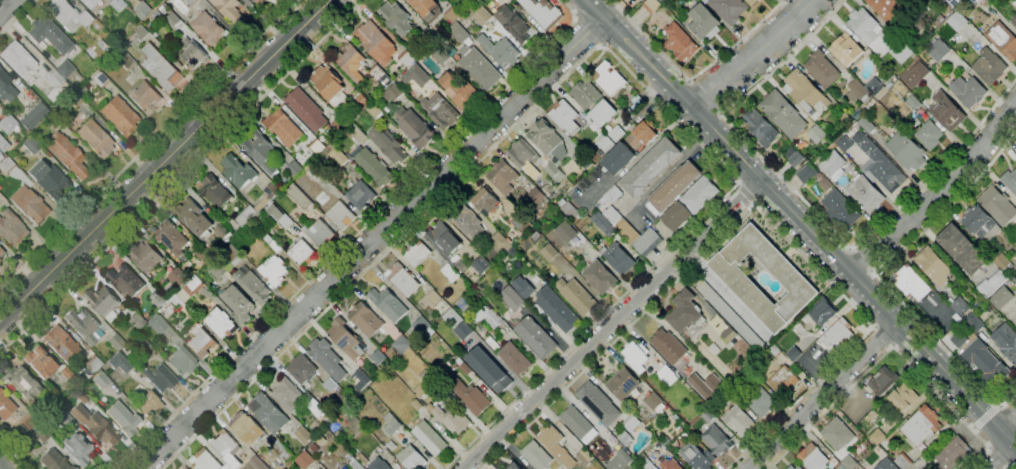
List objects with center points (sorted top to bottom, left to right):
building: (475, 0)
building: (495, 0)
building: (508, 0)
building: (662, 1)
building: (88, 2)
building: (193, 2)
building: (260, 2)
building: (752, 2)
building: (954, 2)
building: (975, 2)
building: (1014, 2)
building: (939, 3)
road: (5, 5)
building: (116, 5)
building: (652, 5)
building: (470, 6)
building: (427, 8)
building: (229, 9)
building: (729, 9)
building: (142, 10)
building: (888, 10)
building: (966, 10)
building: (543, 12)
building: (156, 13)
building: (68, 15)
building: (452, 15)
road: (17, 16)
building: (482, 16)
building: (396, 18)
building: (173, 20)
building: (1014, 20)
building: (958, 21)
building: (704, 22)
building: (513, 23)
building: (917, 25)
building: (476, 29)
building: (210, 30)
building: (458, 32)
building: (142, 33)
building: (428, 34)
road: (588, 34)
building: (49, 35)
building: (879, 36)
building: (120, 39)
building: (1003, 40)
building: (680, 42)
building: (116, 43)
building: (376, 43)
building: (101, 45)
road: (597, 48)
building: (847, 49)
building: (938, 50)
building: (500, 51)
building: (193, 54)
building: (443, 55)
building: (17, 58)
building: (123, 58)
road: (758, 58)
building: (352, 64)
building: (990, 66)
building: (414, 67)
building: (0, 68)
building: (64, 68)
building: (161, 68)
building: (479, 68)
building: (822, 68)
building: (916, 74)
building: (381, 76)
road: (692, 76)
building: (54, 78)
building: (609, 78)
building: (99, 79)
building: (74, 83)
building: (329, 84)
building: (876, 87)
building: (5, 88)
building: (857, 90)
building: (969, 90)
building: (460, 91)
building: (397, 93)
building: (585, 93)
building: (806, 94)
road: (706, 95)
building: (145, 97)
building: (75, 98)
building: (883, 98)
building: (362, 100)
building: (914, 102)
building: (637, 103)
building: (871, 103)
building: (377, 105)
building: (305, 108)
building: (947, 110)
building: (440, 111)
building: (603, 113)
building: (631, 113)
building: (783, 113)
building: (563, 114)
building: (29, 115)
building: (119, 115)
building: (846, 117)
road: (726, 120)
building: (853, 121)
building: (6, 123)
building: (339, 125)
building: (867, 125)
building: (759, 126)
building: (283, 128)
building: (417, 130)
building: (850, 132)
building: (617, 133)
building: (643, 134)
building: (817, 134)
building: (929, 135)
building: (324, 136)
building: (361, 136)
building: (95, 138)
building: (33, 139)
building: (605, 143)
building: (844, 143)
building: (3, 144)
road: (148, 144)
building: (388, 145)
building: (317, 146)
building: (548, 147)
building: (907, 149)
building: (262, 151)
building: (791, 152)
building: (860, 152)
building: (0, 153)
building: (522, 154)
building: (1, 156)
building: (67, 156)
building: (339, 156)
building: (349, 157)
building: (309, 158)
building: (619, 158)
building: (581, 159)
building: (797, 159)
road: (165, 160)
building: (831, 161)
building: (6, 164)
building: (882, 164)
building: (374, 167)
building: (651, 167)
building: (296, 168)
road: (672, 169)
building: (238, 171)
building: (313, 171)
road: (939, 171)
building: (806, 174)
road: (181, 175)
building: (504, 177)
building: (48, 178)
building: (1010, 180)
building: (826, 183)
building: (0, 187)
building: (673, 187)
building: (215, 192)
road: (938, 192)
building: (866, 193)
road: (745, 194)
building: (360, 195)
building: (536, 195)
building: (612, 195)
building: (303, 200)
building: (485, 200)
building: (322, 201)
building: (284, 202)
building: (562, 202)
building: (28, 203)
building: (690, 203)
building: (597, 205)
building: (998, 205)
road: (752, 206)
building: (254, 208)
building: (272, 209)
building: (569, 210)
building: (841, 210)
building: (341, 215)
building: (558, 215)
building: (579, 215)
building: (296, 217)
building: (194, 218)
building: (464, 219)
building: (520, 220)
building: (287, 221)
road: (802, 222)
building: (981, 223)
building: (603, 224)
building: (11, 228)
building: (570, 230)
building: (630, 230)
building: (223, 232)
building: (320, 233)
building: (535, 235)
building: (440, 236)
building: (171, 237)
building: (268, 239)
road: (349, 241)
road: (372, 243)
building: (500, 243)
building: (276, 246)
building: (963, 249)
building: (301, 252)
building: (549, 252)
building: (1, 253)
building: (417, 254)
building: (204, 255)
building: (233, 255)
building: (145, 256)
building: (476, 256)
road: (862, 256)
building: (619, 258)
building: (1004, 262)
building: (934, 266)
building: (274, 270)
building: (219, 271)
building: (450, 273)
road: (868, 273)
building: (158, 275)
building: (178, 277)
building: (600, 277)
building: (402, 278)
building: (736, 278)
building: (1014, 278)
building: (127, 282)
building: (911, 283)
building: (992, 284)
building: (1015, 284)
building: (253, 285)
building: (525, 289)
building: (186, 292)
building: (576, 296)
building: (433, 297)
building: (511, 298)
building: (1002, 298)
building: (158, 299)
building: (463, 302)
building: (104, 303)
building: (238, 303)
building: (388, 304)
building: (961, 306)
building: (558, 311)
building: (822, 311)
building: (685, 312)
building: (730, 315)
building: (488, 317)
building: (136, 318)
building: (366, 319)
building: (975, 322)
building: (220, 323)
building: (156, 324)
road: (612, 324)
building: (85, 325)
building: (421, 325)
building: (994, 325)
building: (691, 328)
building: (430, 332)
building: (509, 332)
building: (468, 335)
building: (837, 335)
road: (880, 336)
building: (535, 337)
building: (728, 337)
building: (958, 337)
building: (435, 338)
building: (345, 339)
building: (115, 341)
building: (201, 341)
building: (1006, 341)
building: (139, 342)
building: (61, 343)
building: (492, 343)
building: (402, 344)
building: (807, 345)
building: (668, 346)
road: (889, 346)
building: (163, 347)
building: (775, 350)
building: (795, 353)
building: (636, 355)
building: (377, 356)
building: (514, 358)
building: (327, 359)
building: (38, 360)
building: (182, 361)
building: (985, 361)
building: (682, 364)
building: (126, 367)
building: (302, 369)
building: (468, 371)
building: (976, 371)
building: (82, 372)
building: (491, 372)
building: (667, 375)
building: (749, 375)
building: (159, 377)
building: (426, 377)
building: (362, 378)
building: (100, 380)
building: (784, 381)
building: (882, 381)
building: (21, 382)
building: (623, 383)
building: (331, 385)
building: (87, 386)
building: (709, 387)
building: (420, 390)
building: (443, 390)
building: (287, 392)
road: (824, 396)
building: (470, 397)
building: (727, 397)
building: (902, 397)
building: (61, 398)
building: (76, 398)
building: (760, 401)
building: (655, 402)
building: (148, 403)
building: (417, 404)
building: (599, 405)
building: (5, 406)
building: (317, 408)
building: (60, 413)
building: (268, 413)
building: (708, 415)
building: (871, 416)
building: (123, 418)
road: (985, 418)
building: (451, 419)
building: (738, 420)
building: (27, 421)
road: (1008, 422)
building: (631, 423)
building: (392, 424)
building: (579, 424)
building: (921, 425)
building: (98, 427)
building: (21, 428)
building: (246, 428)
building: (39, 434)
building: (837, 434)
building: (303, 435)
building: (877, 436)
building: (429, 438)
building: (625, 438)
building: (321, 439)
building: (717, 440)
building: (367, 441)
building: (668, 441)
building: (664, 443)
building: (391, 445)
building: (556, 445)
building: (886, 445)
building: (227, 448)
building: (315, 448)
building: (76, 449)
building: (282, 451)
building: (893, 451)
road: (10, 452)
building: (374, 453)
building: (953, 454)
building: (536, 456)
building: (697, 456)
building: (411, 457)
building: (813, 457)
road: (1003, 457)
building: (361, 459)
building: (588, 459)
building: (621, 459)
building: (53, 460)
building: (205, 460)
building: (305, 460)
road: (992, 460)
building: (903, 461)
building: (258, 463)
building: (850, 463)
building: (355, 464)
building: (379, 464)
building: (648, 464)
building: (670, 464)
building: (511, 465)
building: (886, 465)
building: (840, 466)
road: (0, 467)
building: (227, 467)
building: (791, 467)
building: (799, 467)
building: (184, 468)
building: (270, 468)
building: (345, 468)
road: (1009, 468)

